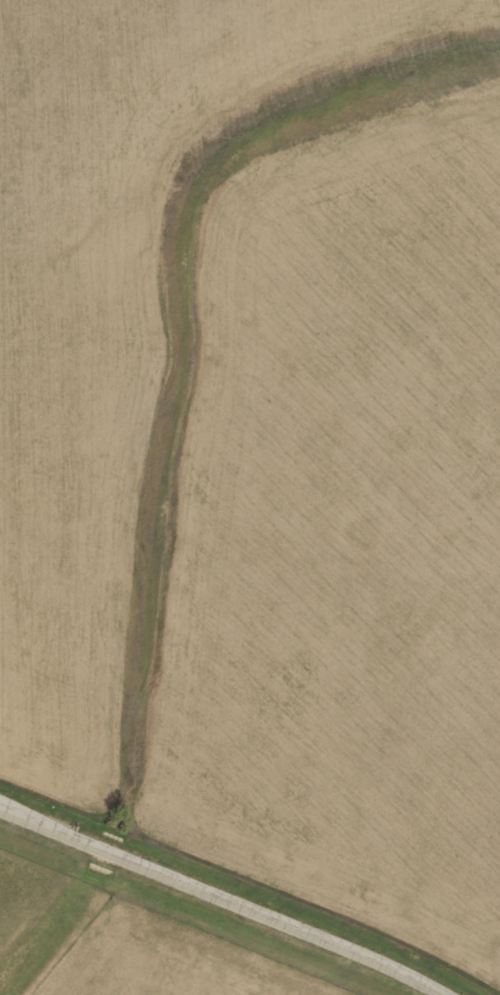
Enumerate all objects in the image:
road: (218, 901)

